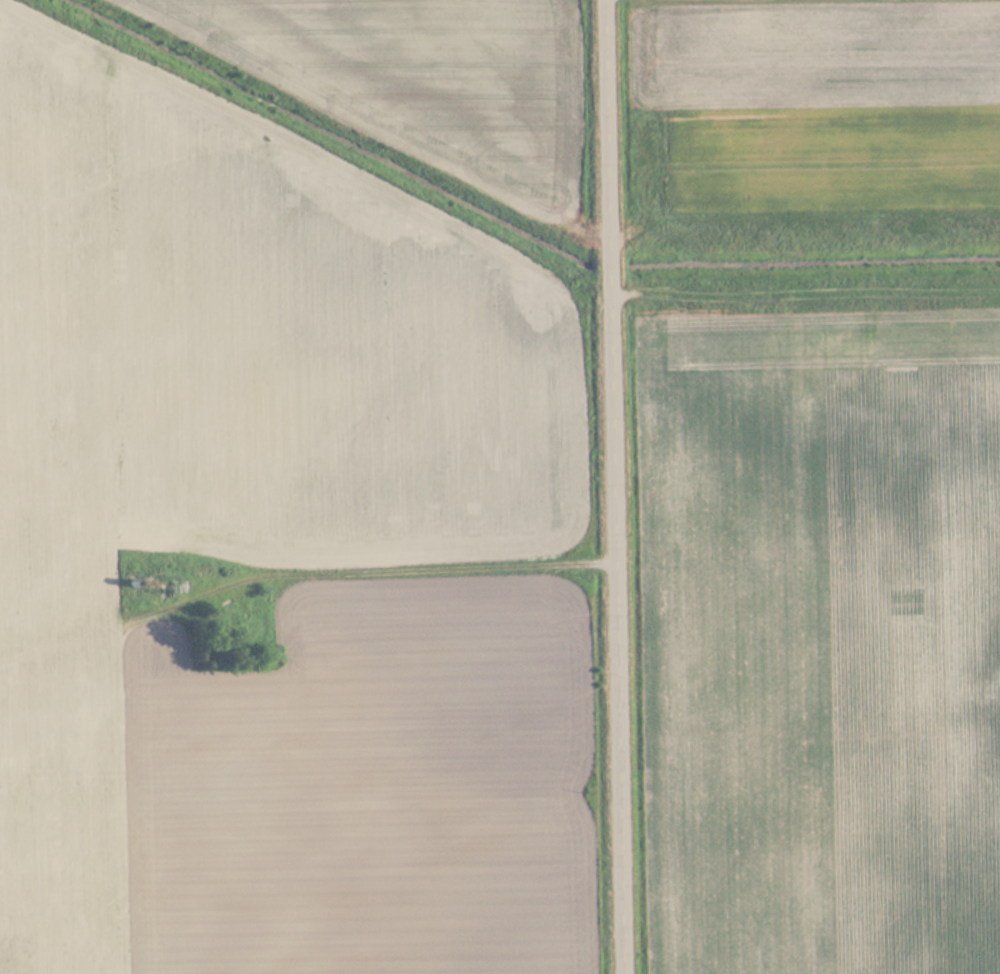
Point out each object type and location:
road: (613, 486)

